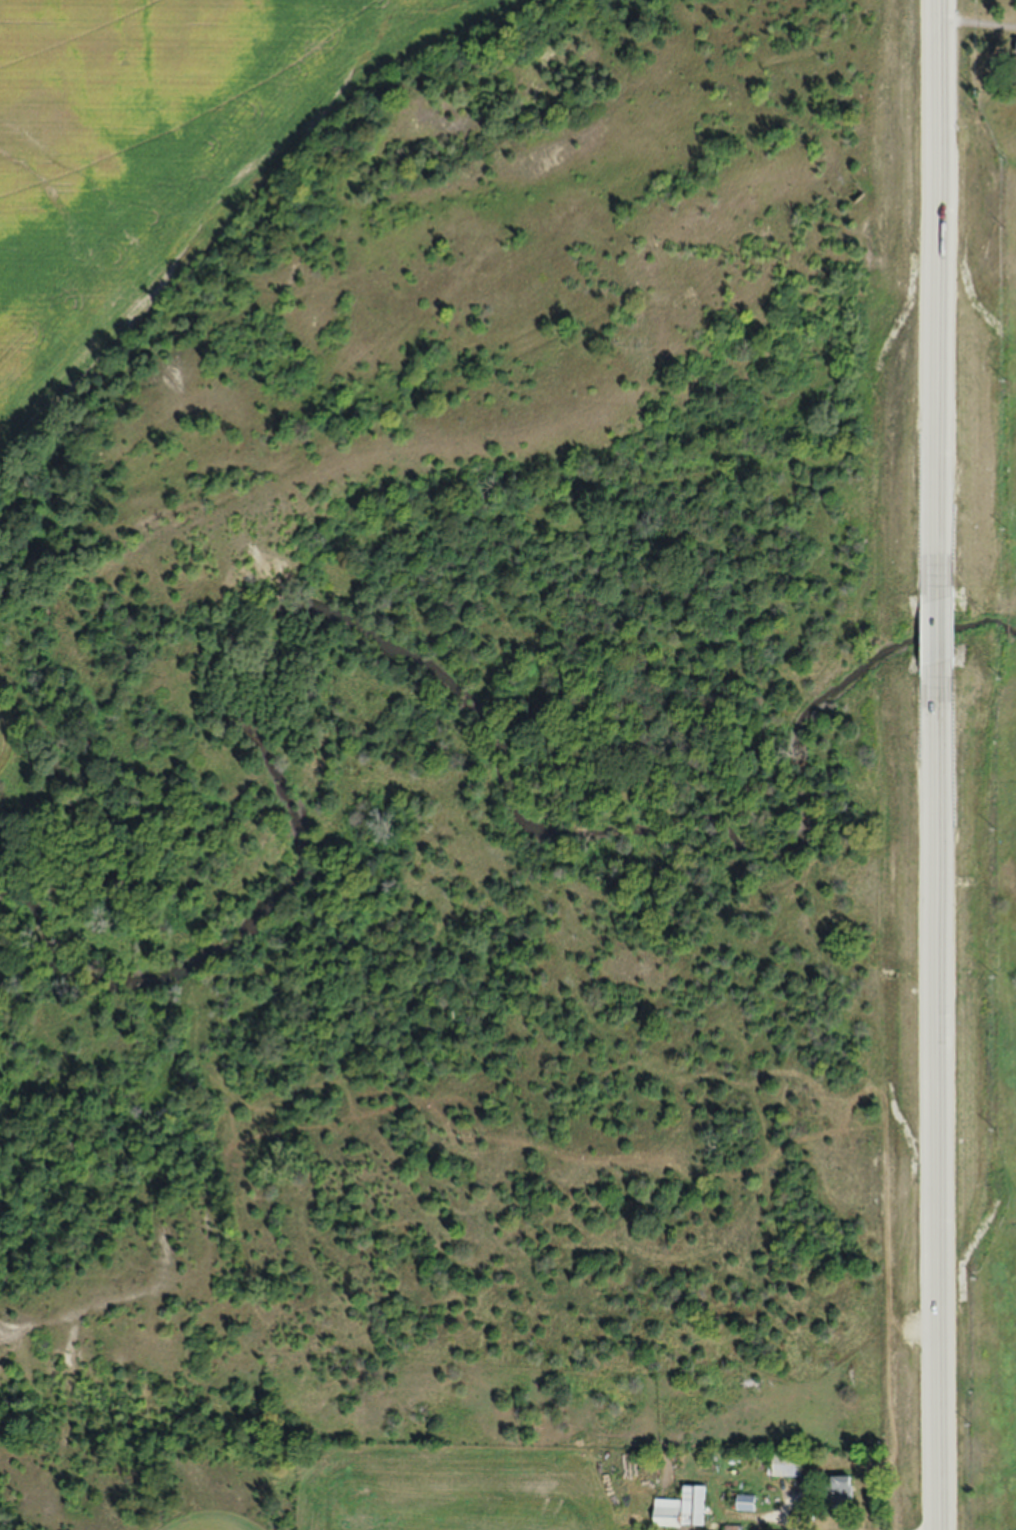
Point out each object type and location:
road: (981, 22)
crop: (157, 155)
crop: (8, 738)
road: (952, 764)
building: (785, 1469)
building: (840, 1491)
building: (746, 1502)
building: (682, 1509)
road: (781, 1522)
building: (733, 1528)

